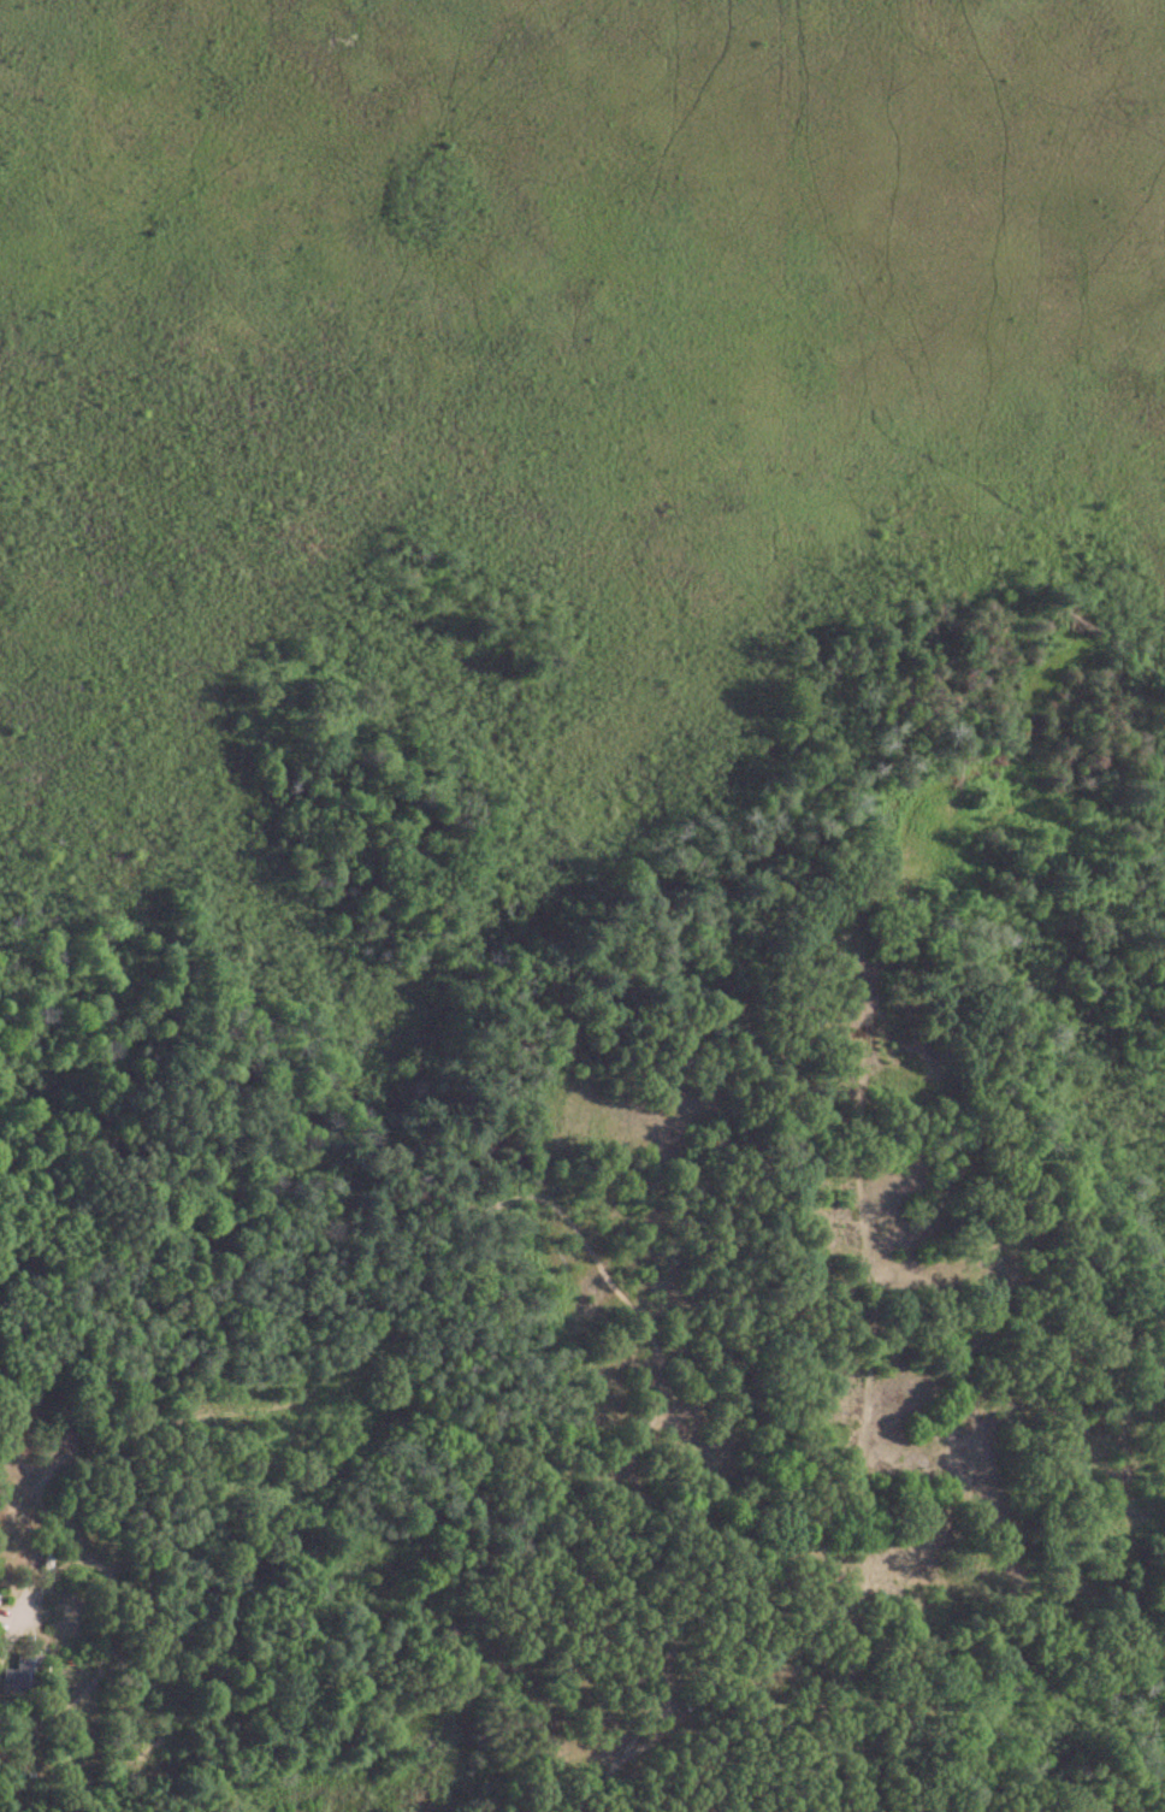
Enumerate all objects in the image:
building: (20, 1674)

